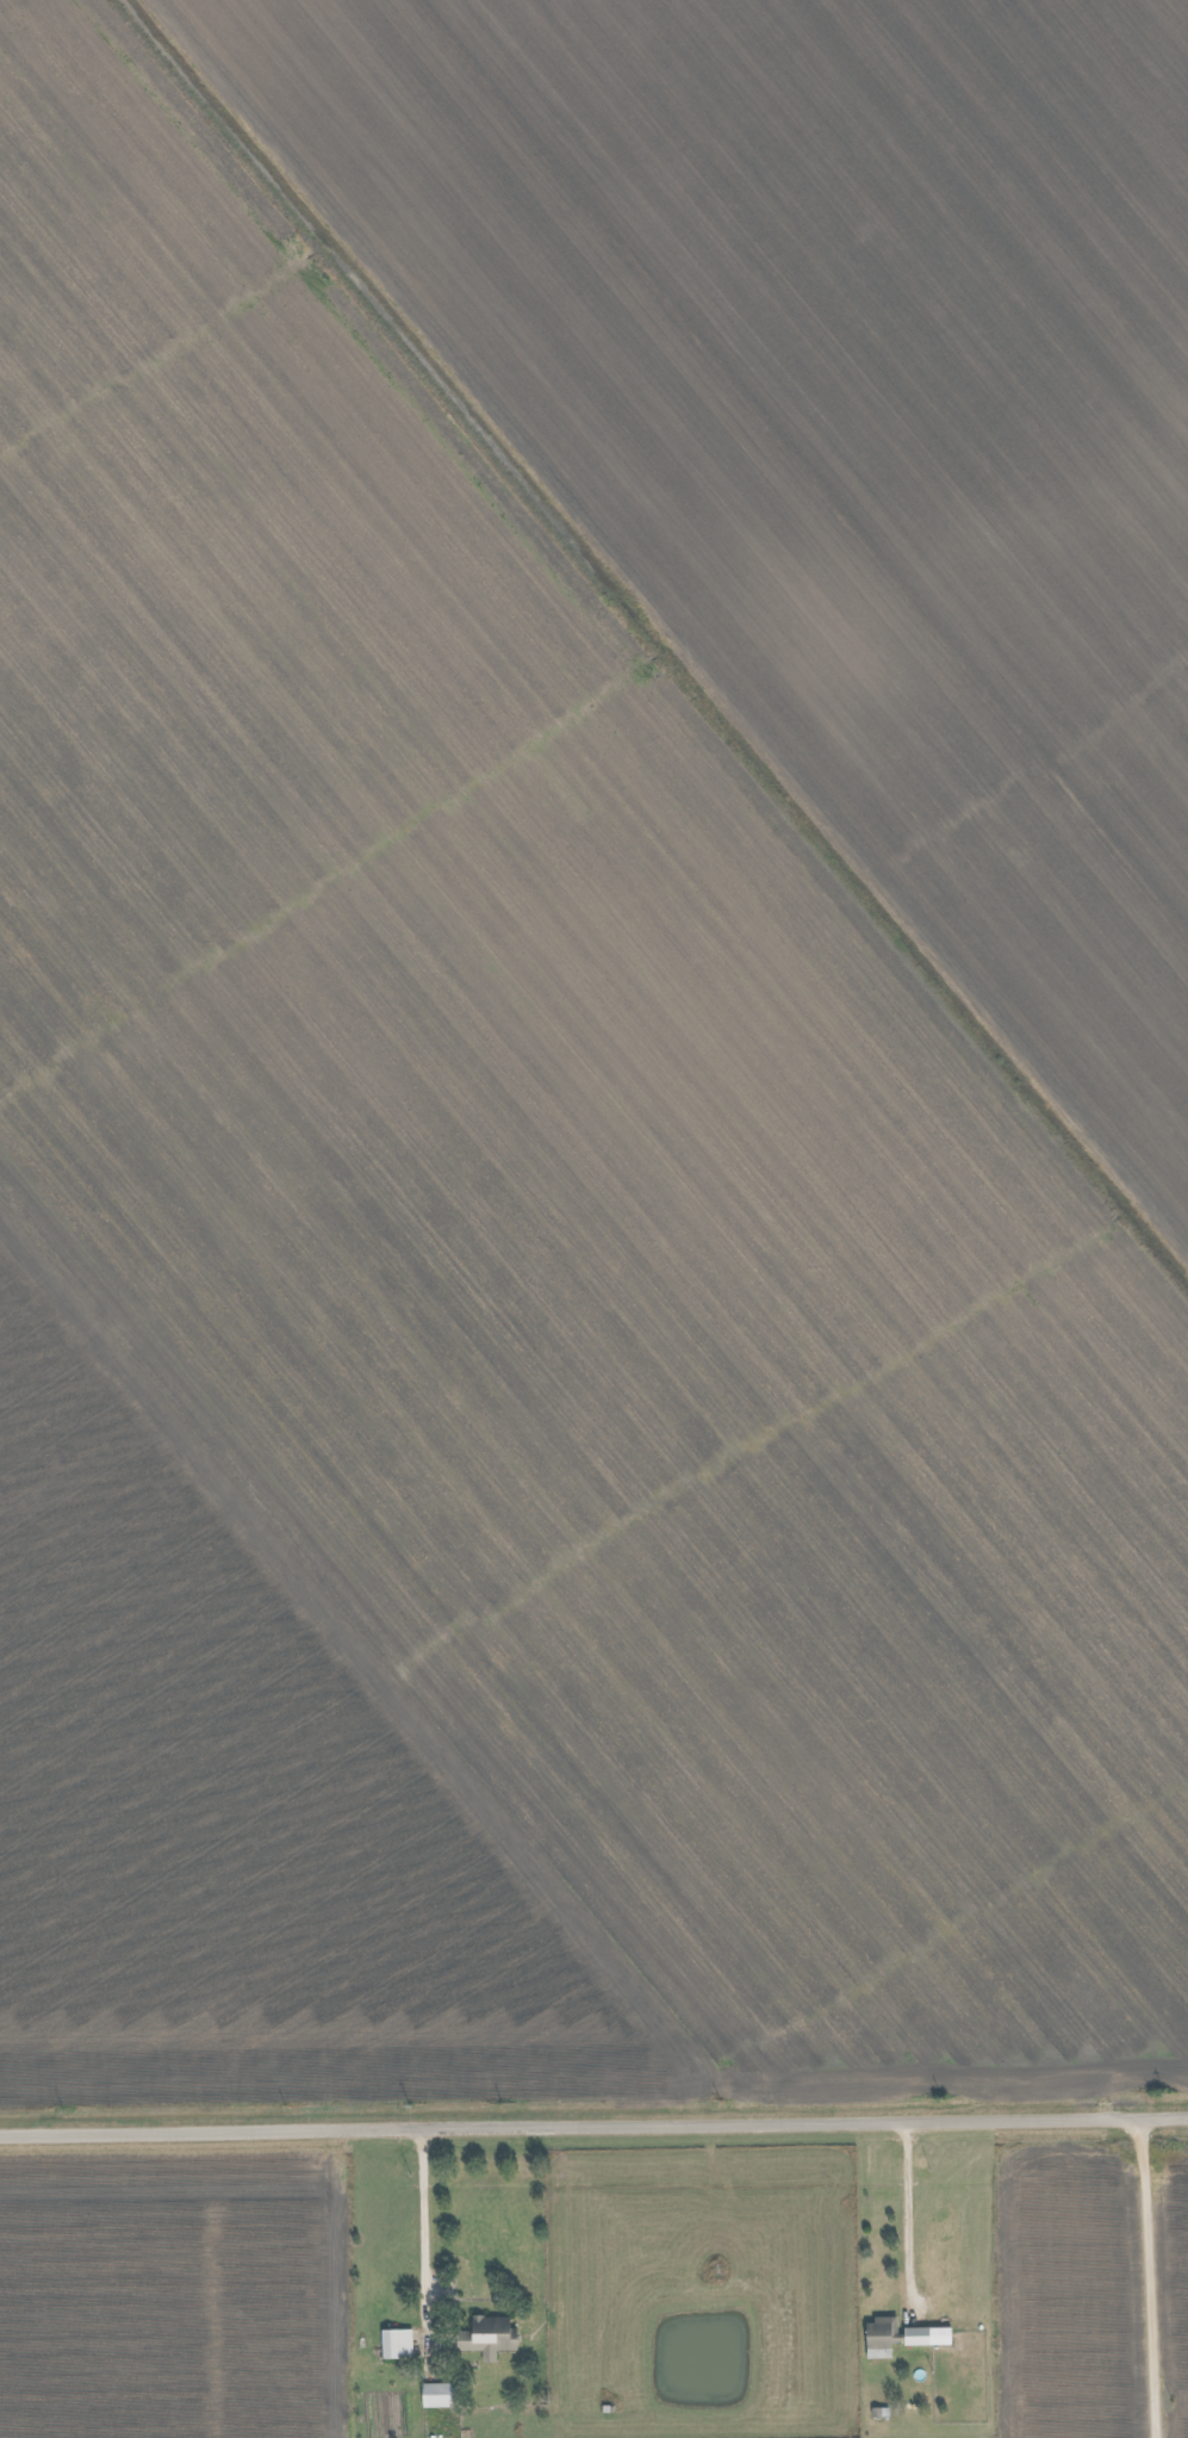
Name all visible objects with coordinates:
road: (593, 2120)
road: (1142, 2276)
building: (486, 2332)
building: (397, 2344)
building: (437, 2396)

